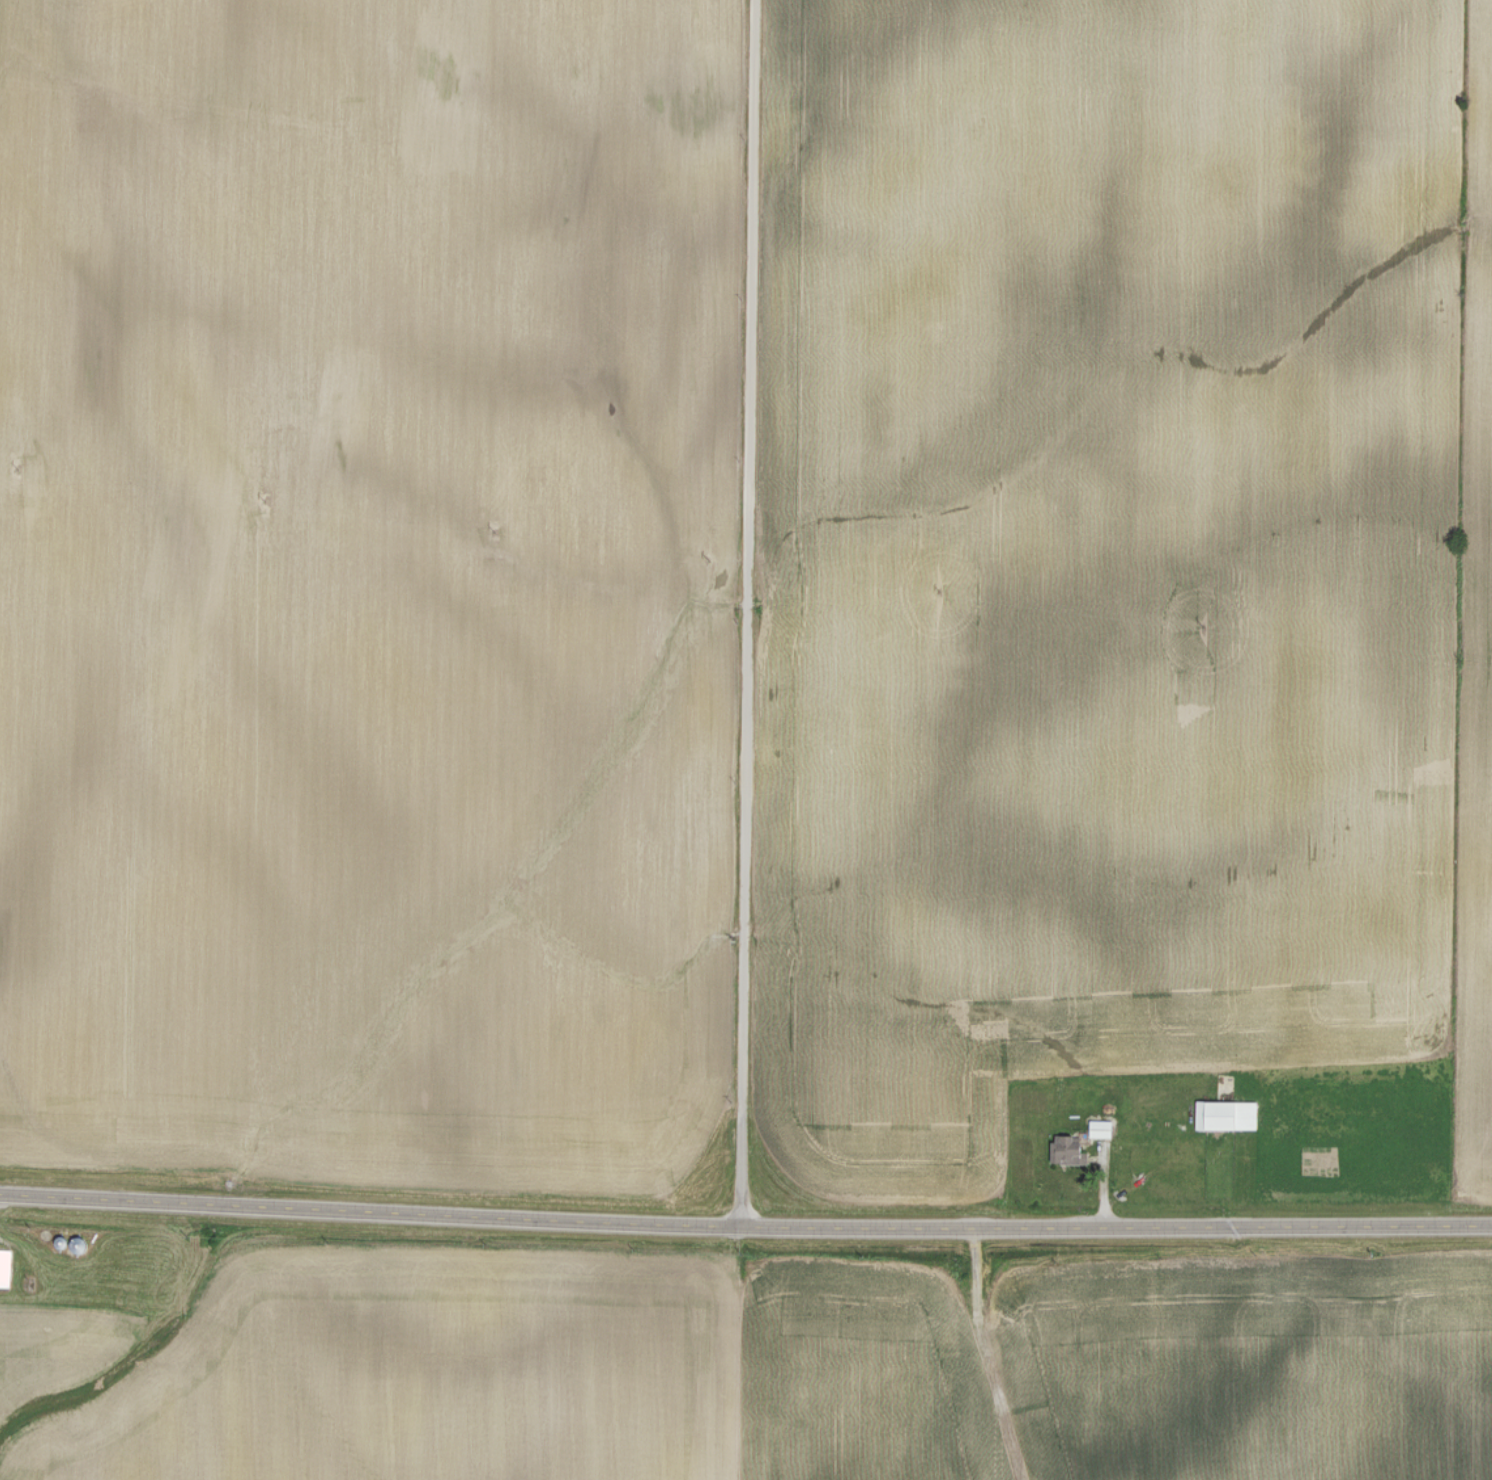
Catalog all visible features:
road: (750, 614)
building: (1100, 1128)
road: (745, 1228)
building: (5, 1267)

